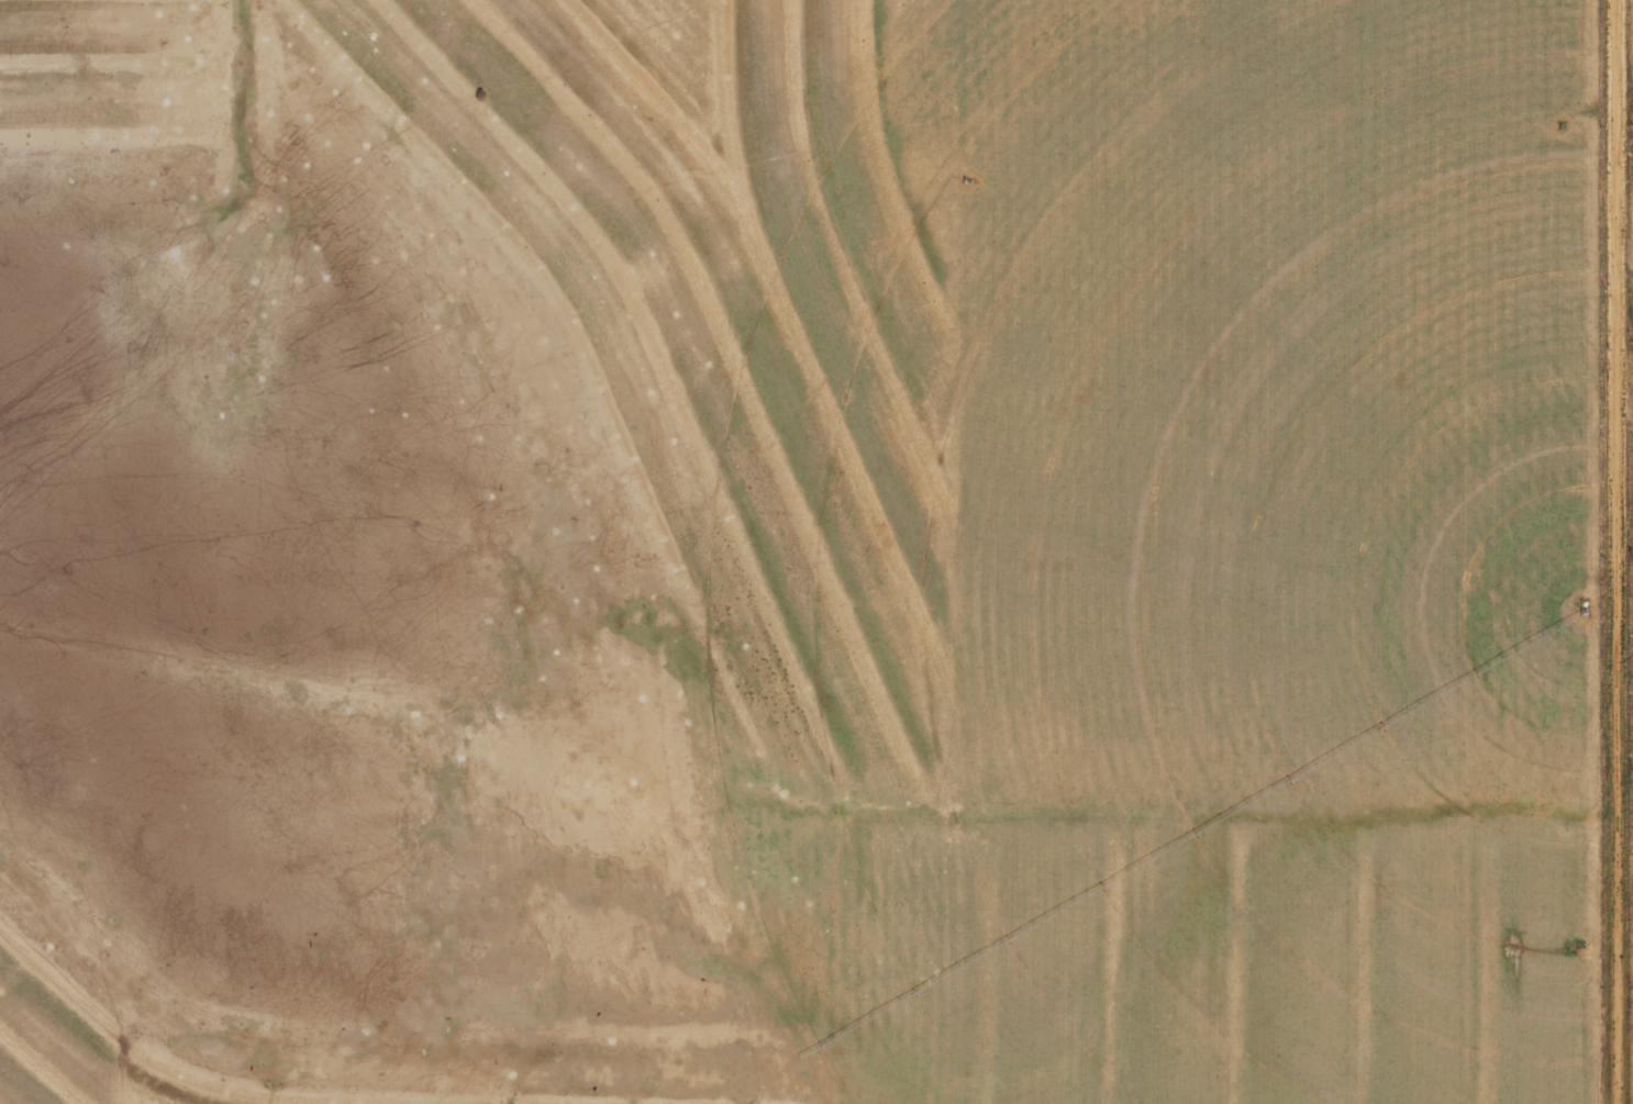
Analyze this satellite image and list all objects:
road: (1620, 551)

